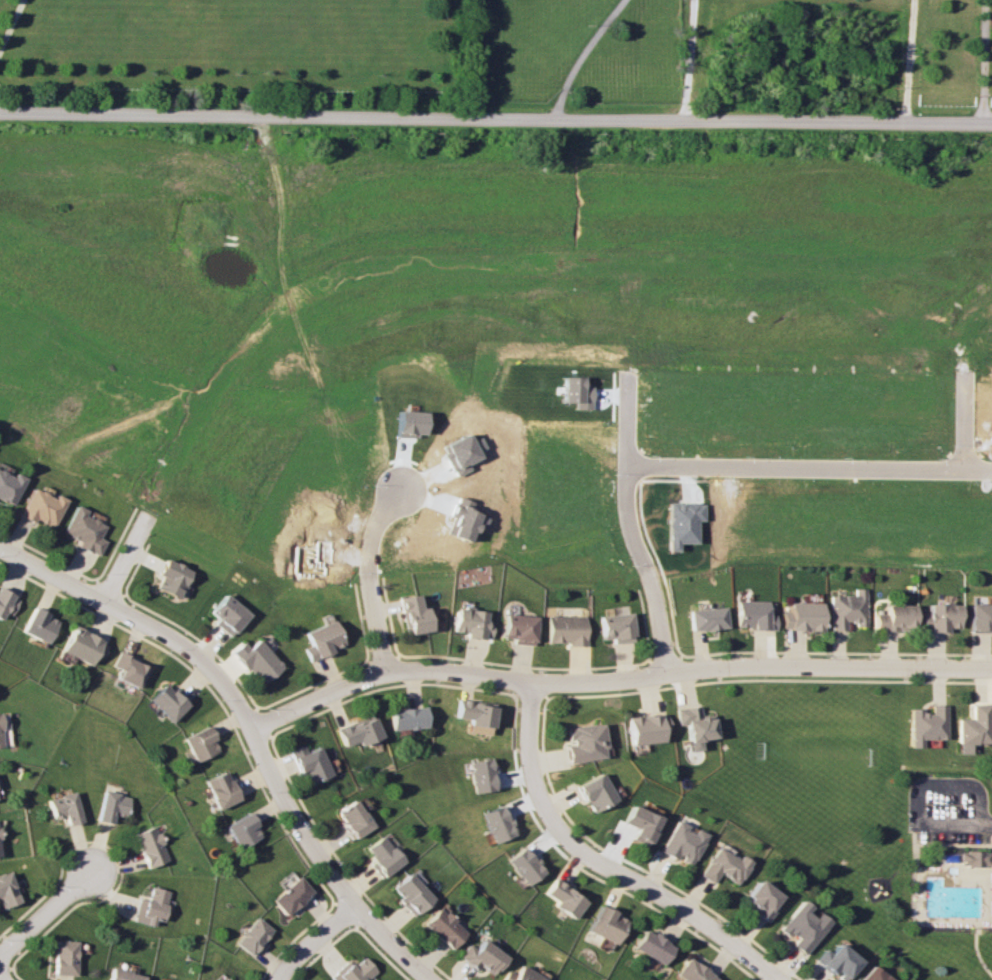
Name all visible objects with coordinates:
road: (9, 21)
road: (576, 54)
road: (681, 59)
road: (907, 60)
road: (981, 61)
road: (495, 116)
building: (575, 391)
building: (408, 422)
road: (961, 425)
road: (805, 468)
road: (620, 476)
building: (7, 487)
building: (38, 508)
building: (82, 530)
road: (126, 557)
road: (363, 574)
building: (167, 579)
building: (5, 602)
building: (848, 609)
building: (753, 613)
building: (223, 614)
building: (412, 614)
building: (802, 616)
road: (660, 617)
building: (705, 617)
building: (940, 617)
building: (980, 617)
building: (895, 618)
road: (139, 621)
building: (471, 623)
building: (614, 625)
building: (35, 626)
building: (519, 628)
building: (566, 629)
building: (322, 640)
building: (78, 646)
building: (256, 660)
building: (124, 671)
road: (615, 680)
building: (164, 703)
building: (475, 715)
building: (407, 718)
building: (924, 724)
building: (692, 725)
building: (644, 728)
building: (972, 728)
building: (358, 732)
building: (584, 742)
building: (197, 743)
building: (0, 744)
building: (310, 764)
building: (480, 775)
building: (219, 788)
road: (917, 788)
building: (594, 792)
building: (109, 806)
park: (861, 807)
building: (62, 808)
building: (353, 818)
building: (497, 823)
building: (639, 823)
road: (986, 824)
road: (293, 825)
building: (242, 830)
building: (681, 842)
building: (147, 846)
building: (383, 855)
building: (972, 858)
road: (600, 863)
building: (524, 866)
building: (723, 866)
building: (412, 891)
building: (5, 892)
building: (290, 895)
building: (564, 898)
building: (759, 900)
building: (150, 907)
road: (48, 914)
building: (606, 924)
building: (799, 927)
building: (443, 928)
building: (251, 935)
road: (314, 943)
road: (392, 945)
building: (652, 946)
building: (482, 957)
building: (61, 958)
building: (834, 961)
building: (355, 970)
building: (692, 972)
building: (871, 974)
road: (4, 975)
building: (120, 975)
building: (521, 975)
building: (223, 979)
building: (226, 979)

